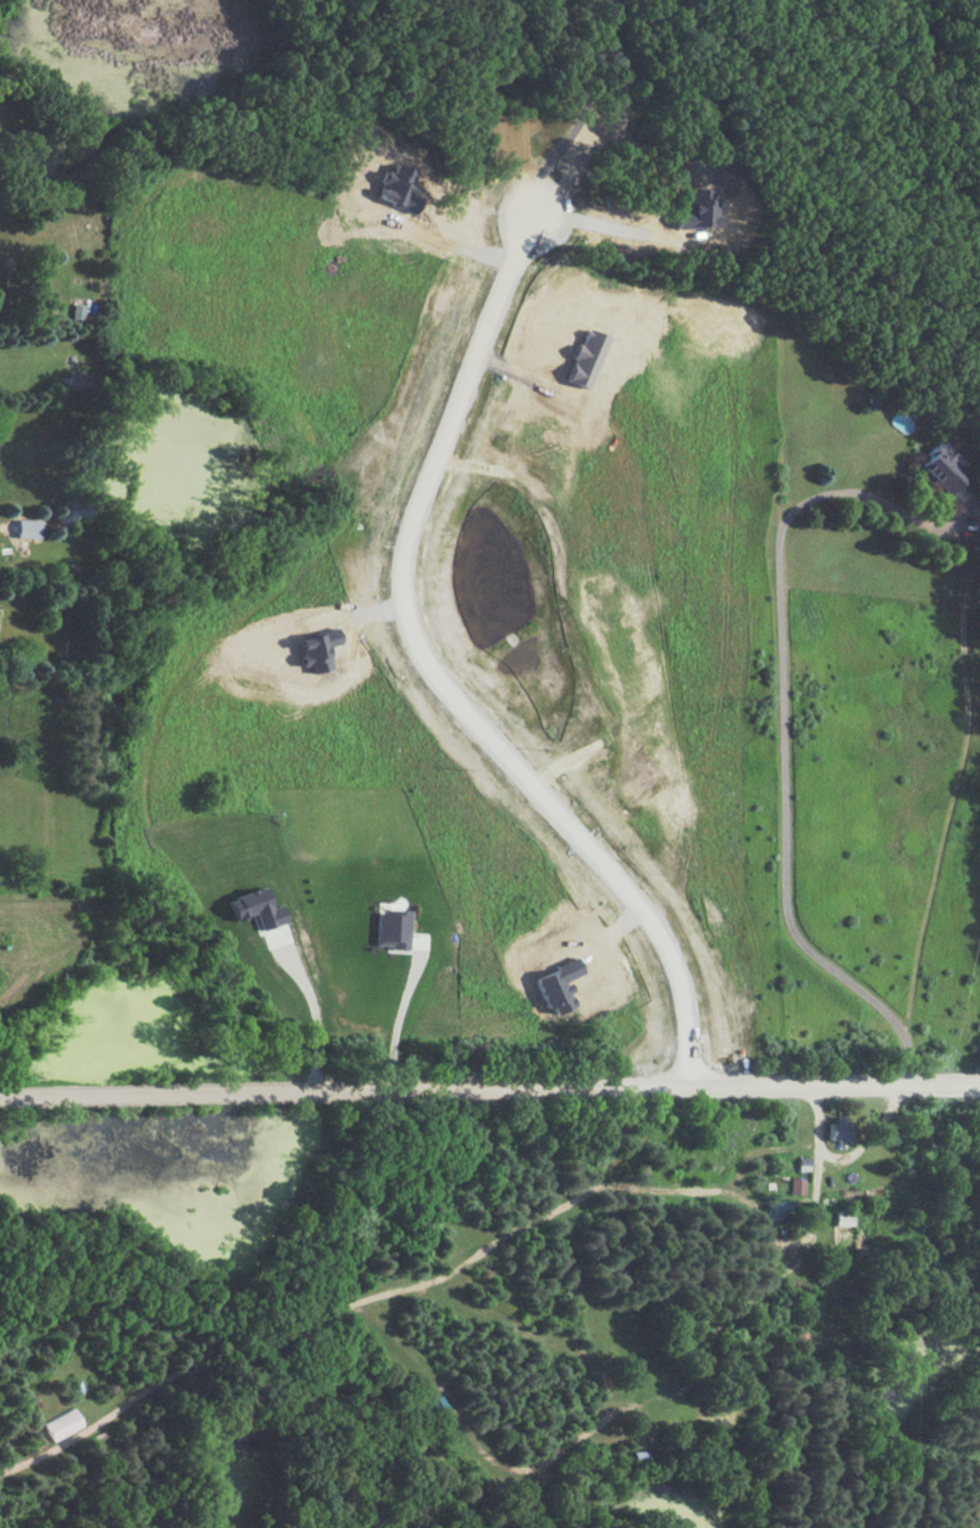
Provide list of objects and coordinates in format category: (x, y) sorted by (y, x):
building: (395, 188)
building: (697, 210)
road: (585, 223)
building: (76, 311)
building: (585, 358)
building: (942, 468)
building: (28, 528)
building: (316, 649)
road: (436, 679)
road: (781, 725)
building: (255, 908)
building: (391, 929)
building: (557, 985)
road: (311, 1013)
road: (401, 1019)
road: (490, 1093)
building: (838, 1130)
road: (844, 1156)
building: (803, 1165)
building: (797, 1187)
building: (777, 1210)
building: (844, 1218)
road: (350, 1304)
building: (801, 1338)
building: (732, 1405)
building: (438, 1406)
building: (63, 1424)
building: (502, 1426)
road: (570, 1443)
building: (639, 1456)

